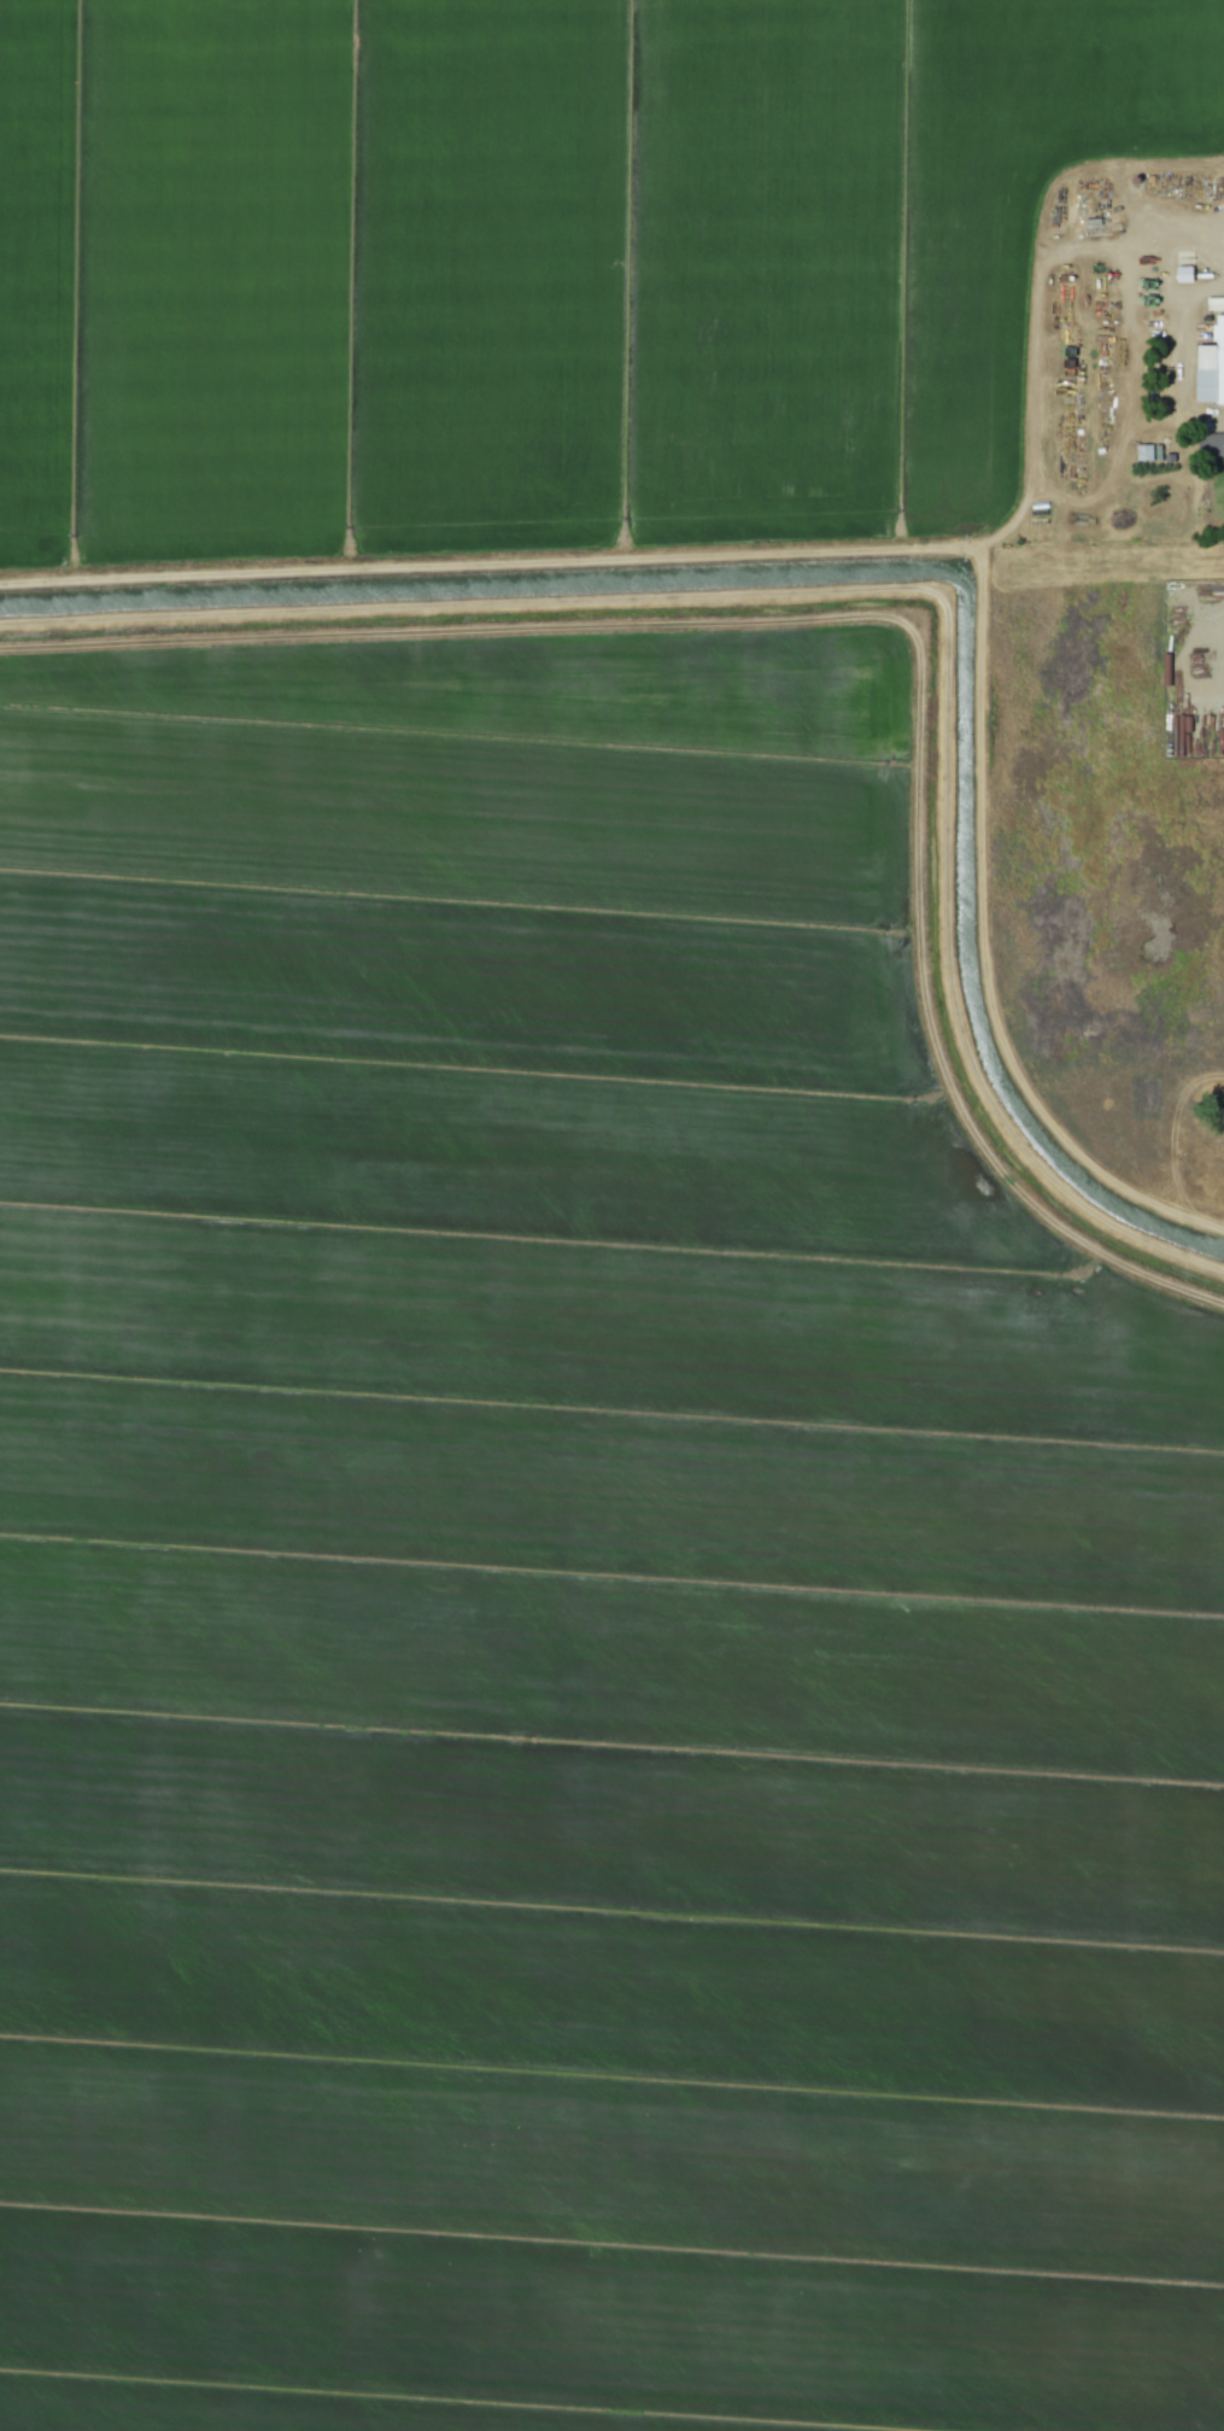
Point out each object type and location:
building: (1182, 273)
road: (1176, 323)
building: (1208, 362)
building: (1217, 445)
building: (1143, 451)

